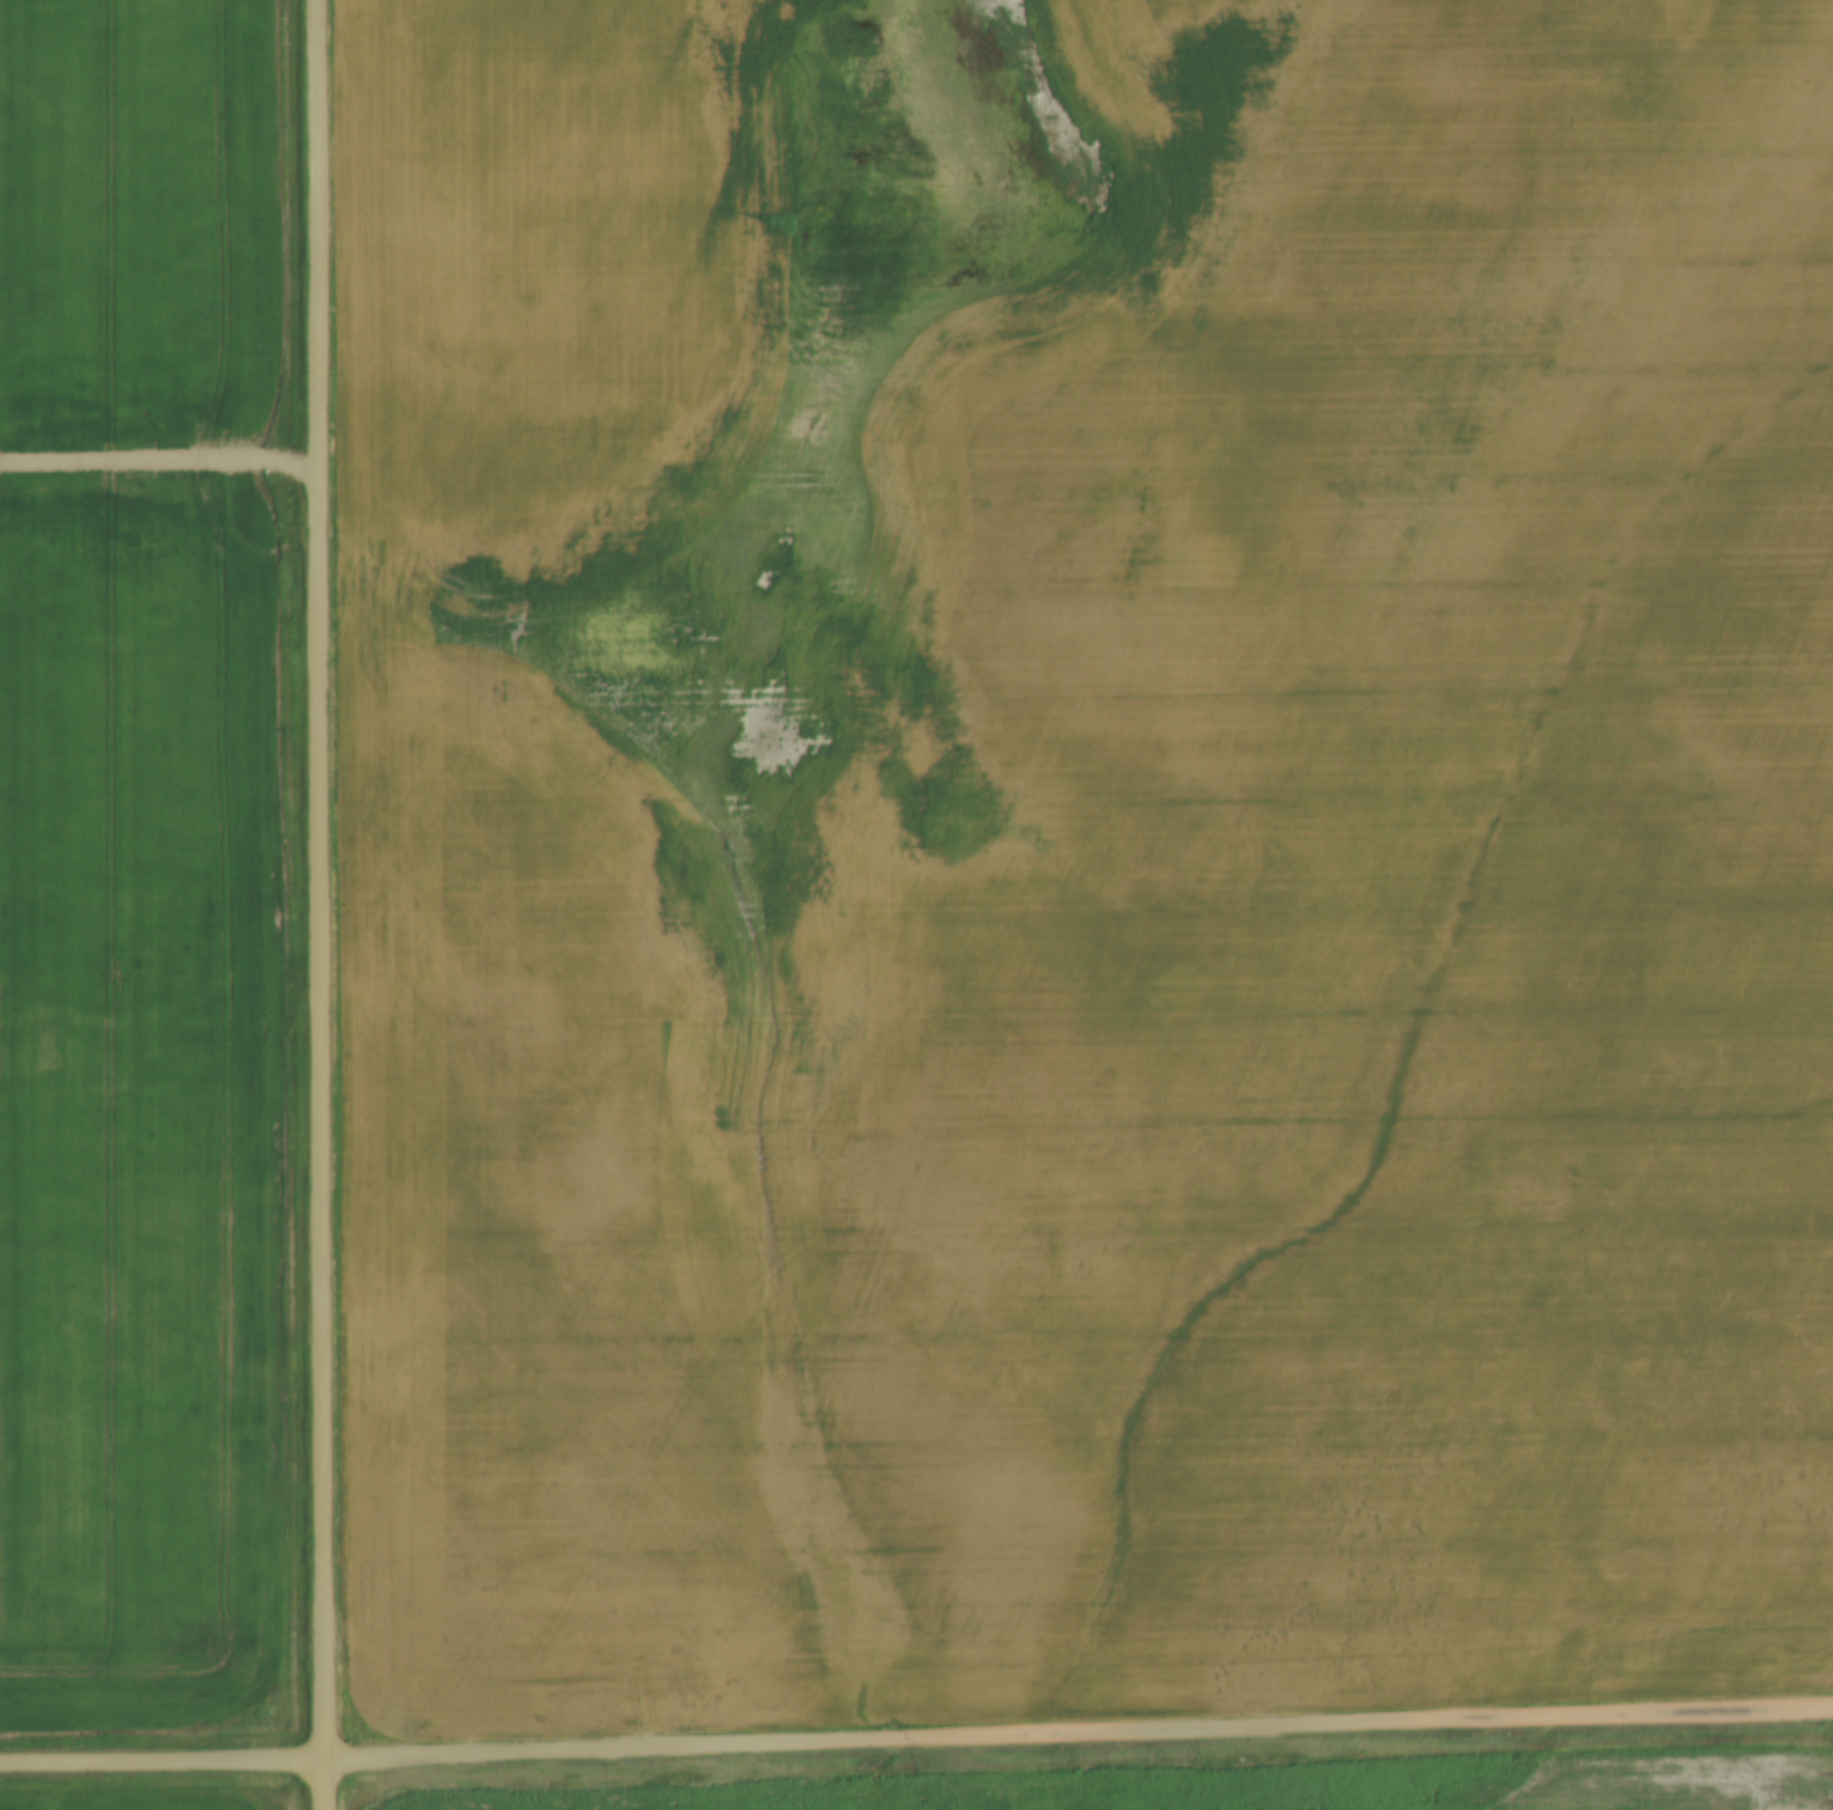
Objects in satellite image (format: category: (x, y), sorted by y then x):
road: (324, 904)
road: (1078, 1733)
road: (160, 1757)

